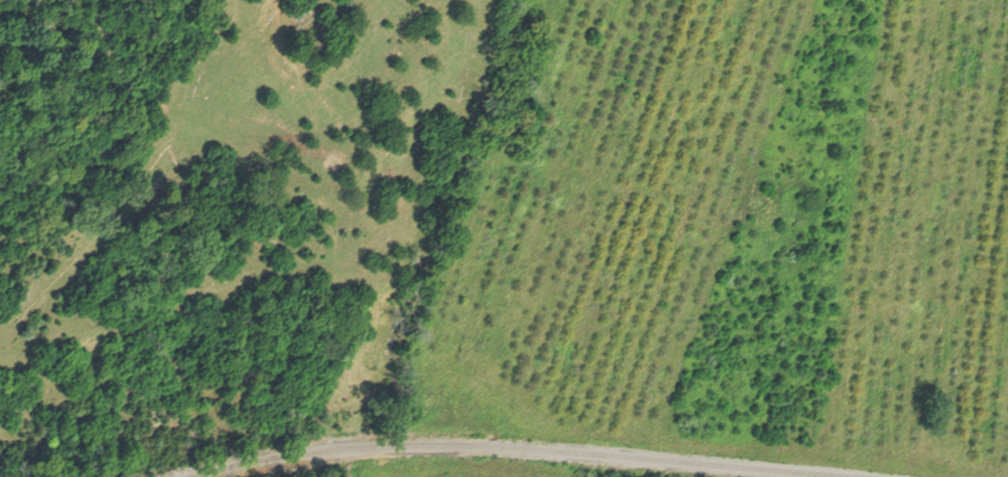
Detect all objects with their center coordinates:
railway: (522, 449)

